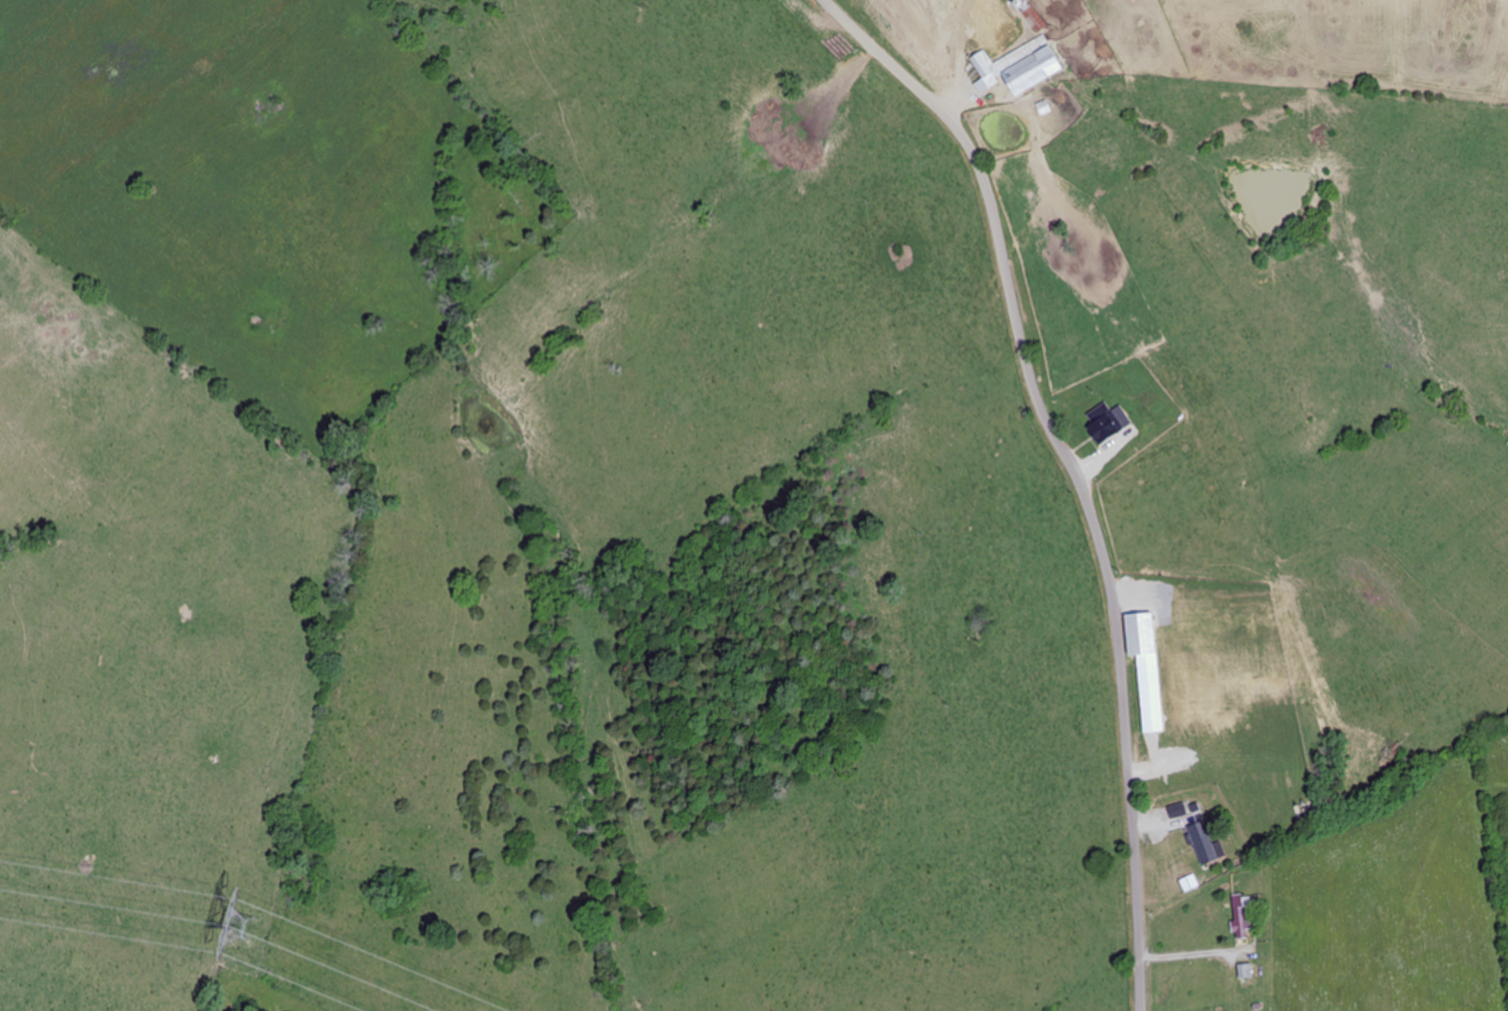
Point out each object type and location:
building: (1036, 20)
building: (1025, 66)
building: (1108, 429)
road: (1071, 470)
building: (1144, 637)
building: (1178, 811)
building: (1204, 844)
building: (1242, 915)
power tower: (253, 931)
building: (1246, 975)

